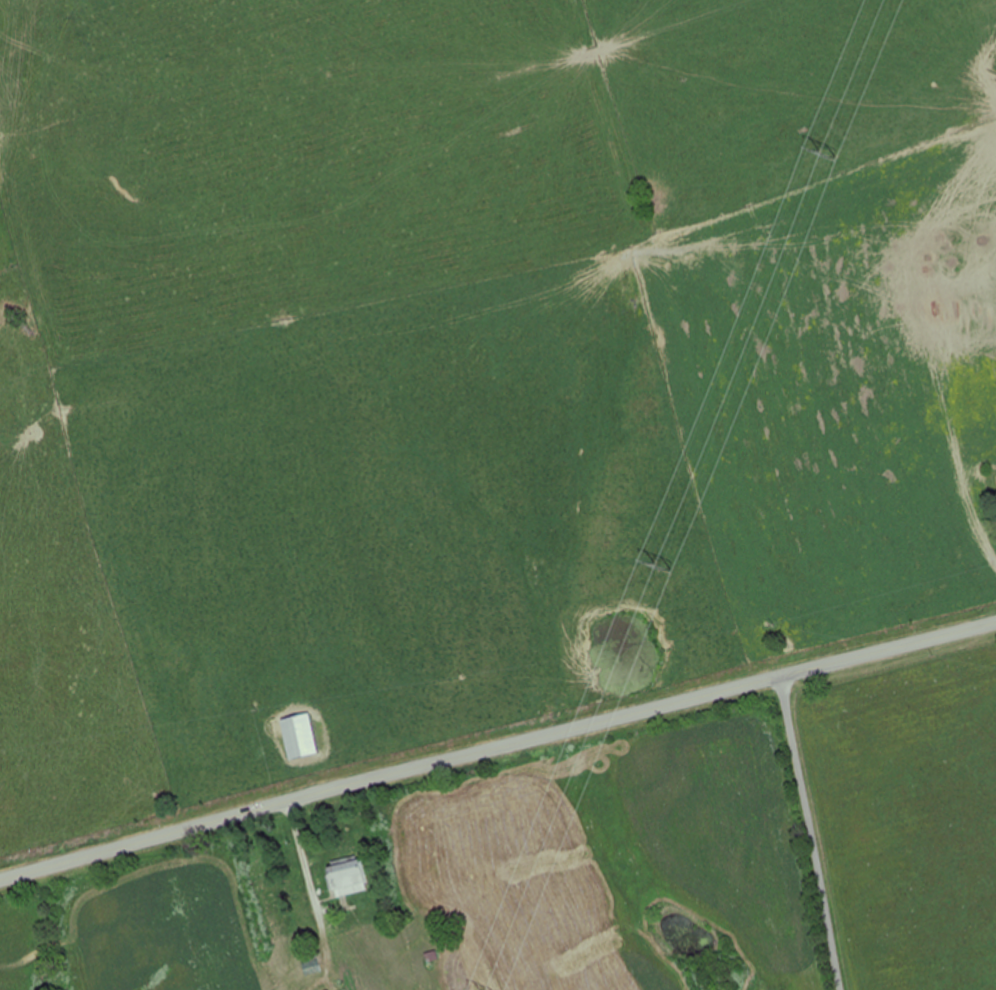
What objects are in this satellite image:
power tower: (818, 152)
power tower: (651, 563)
building: (295, 734)
road: (496, 747)
road: (809, 833)
building: (345, 877)

